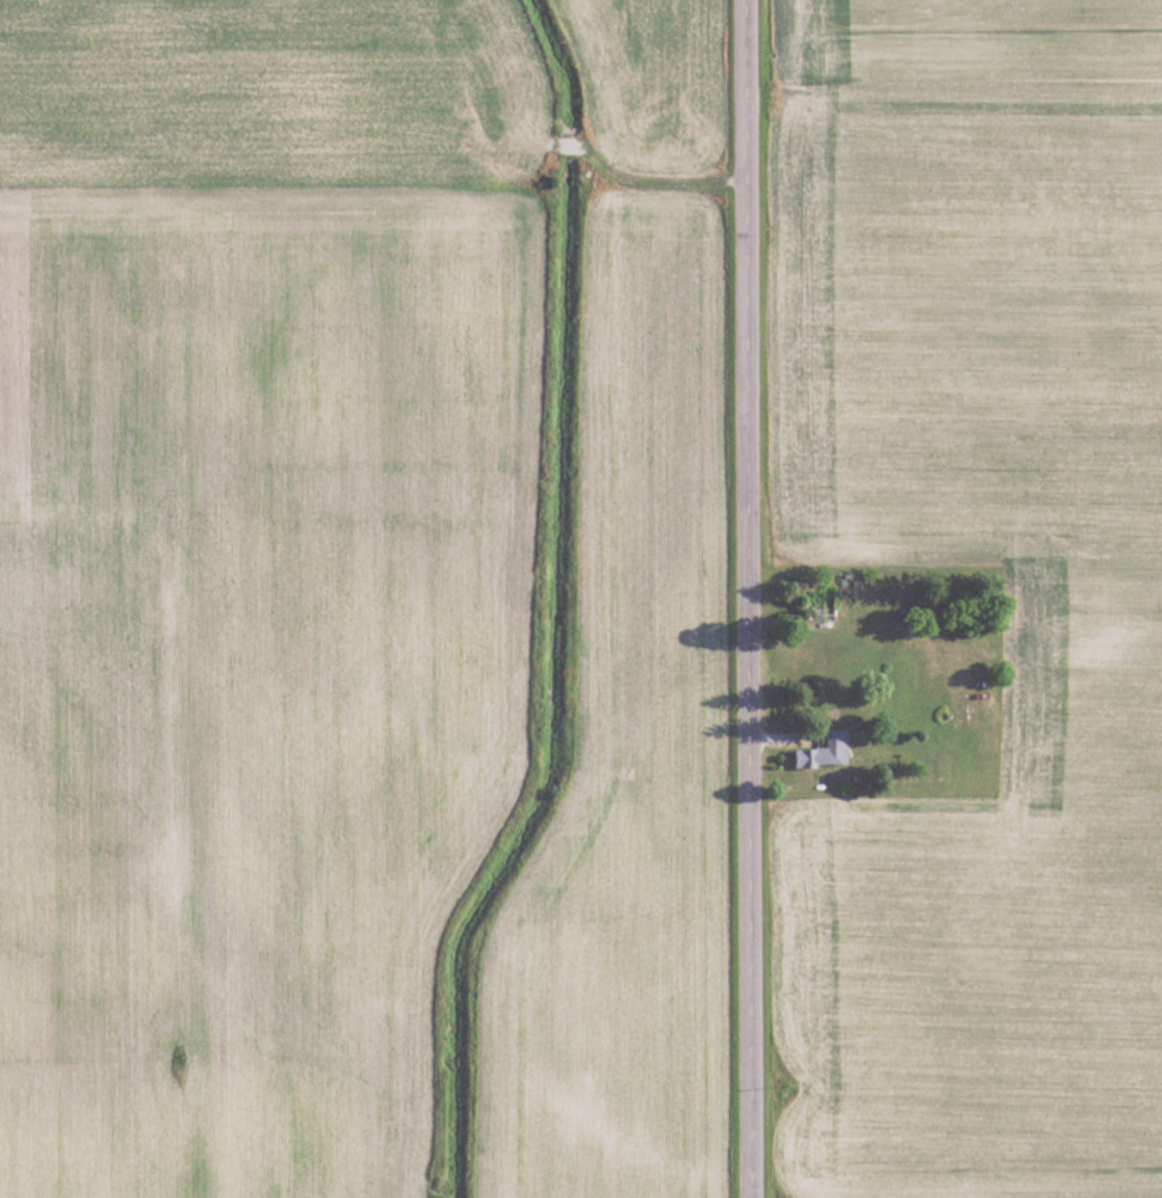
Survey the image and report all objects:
road: (746, 599)
building: (956, 686)
building: (824, 753)

